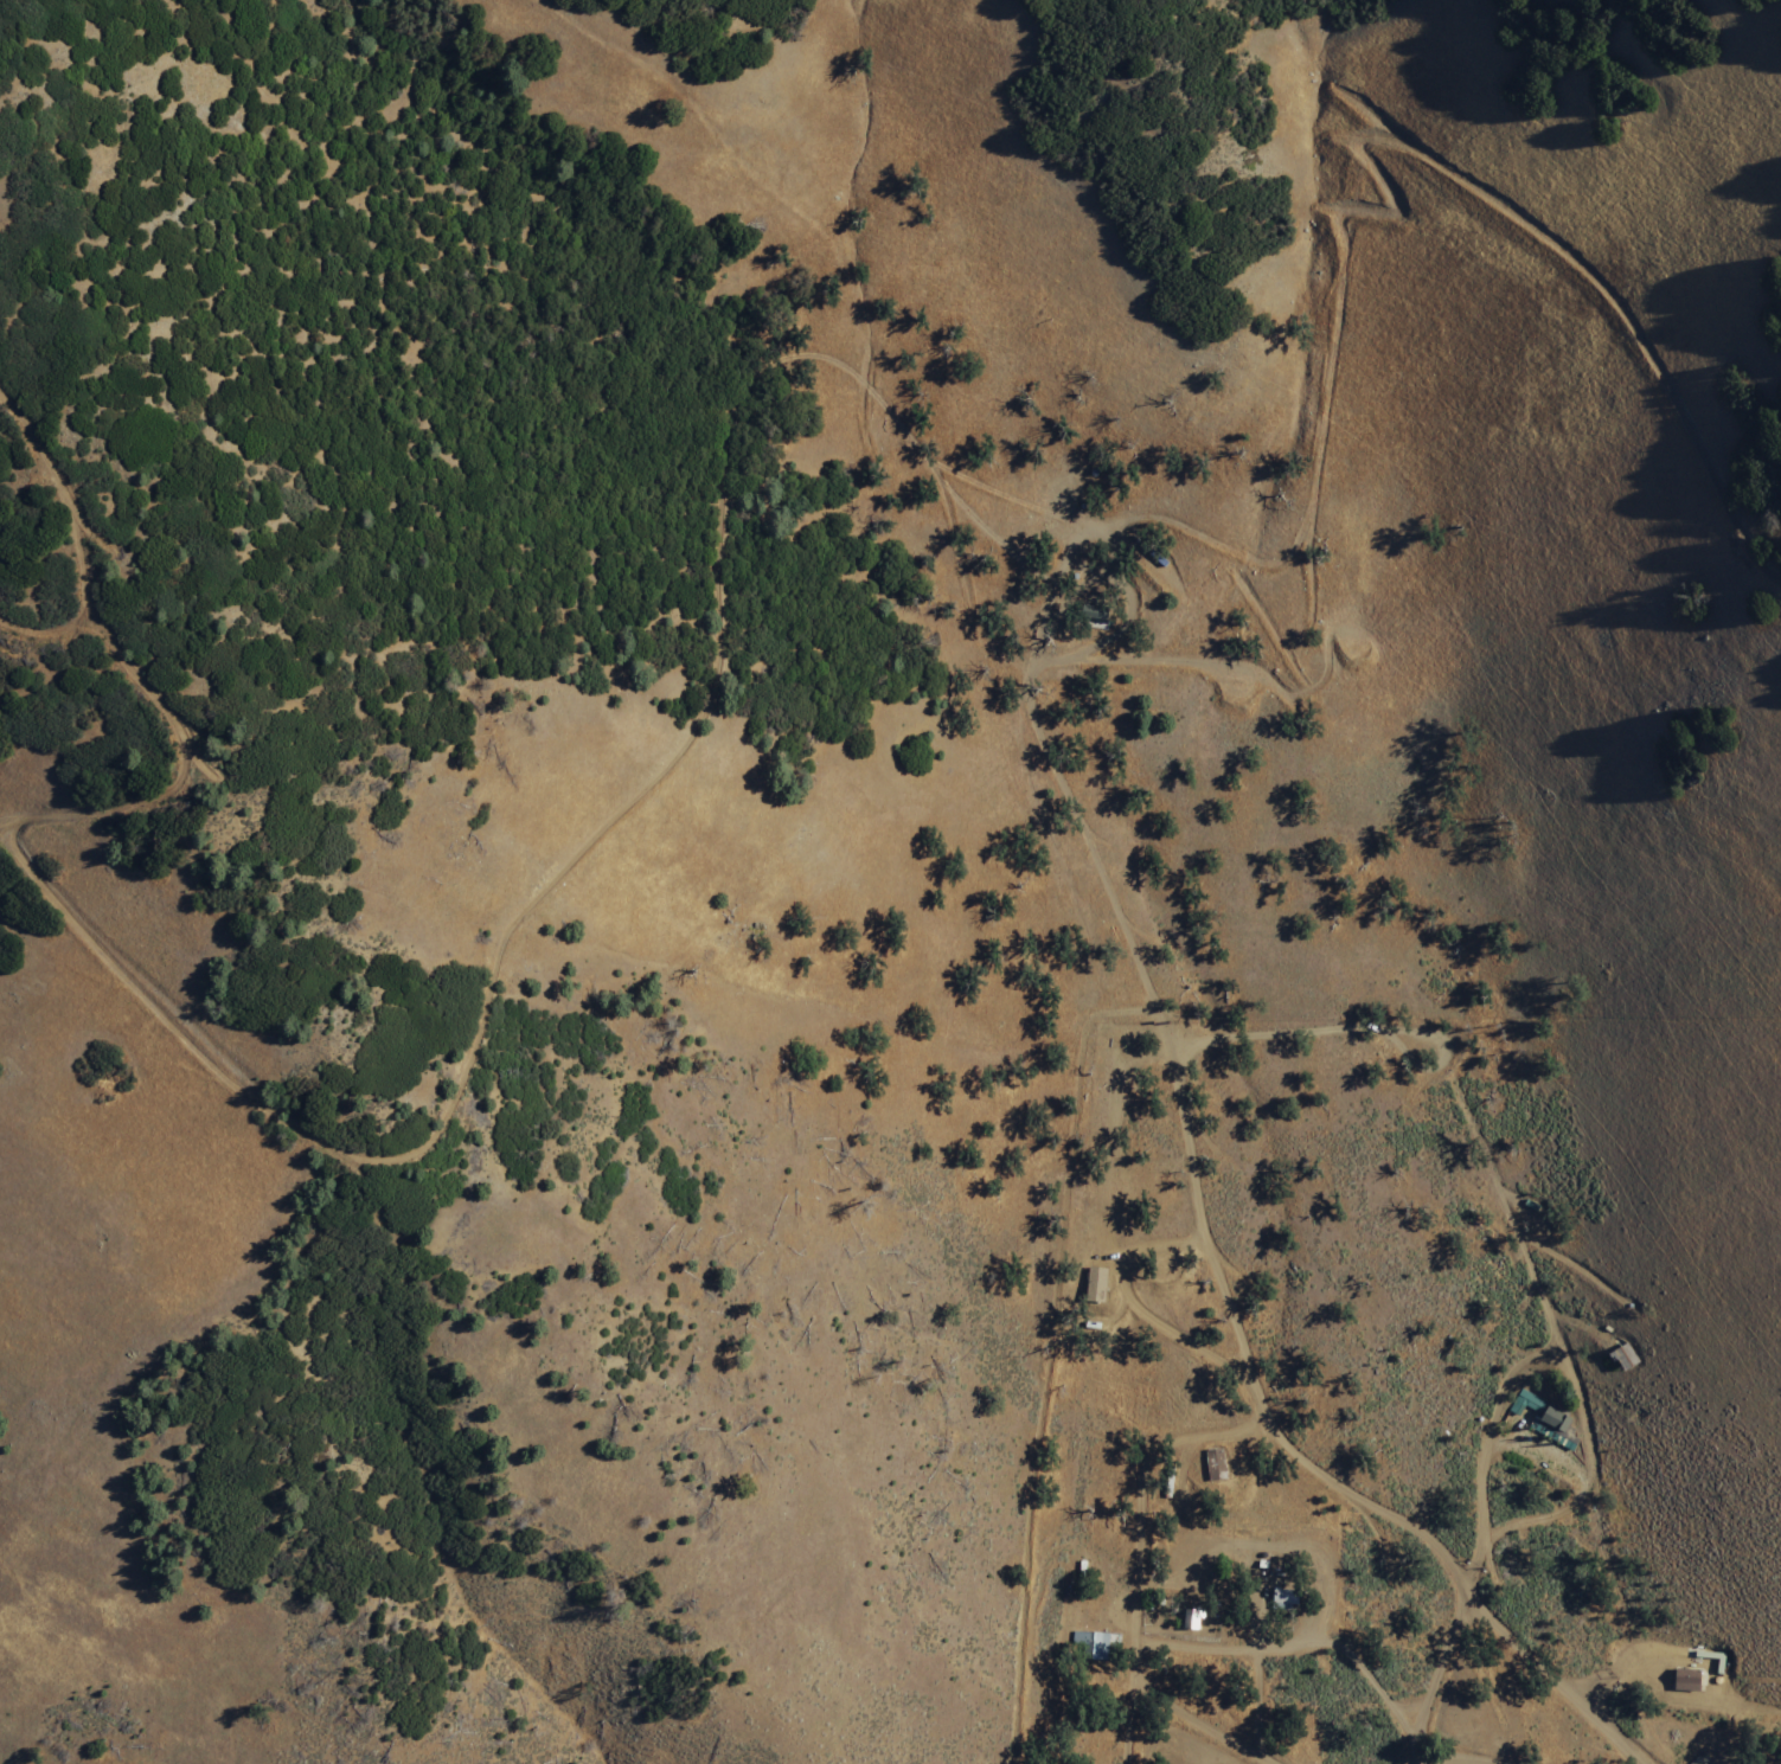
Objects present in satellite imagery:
road: (1101, 1192)
road: (1524, 1263)
building: (1094, 1281)
building: (1524, 1404)
building: (1212, 1465)
road: (1247, 1478)
building: (1282, 1599)
building: (1091, 1644)
road: (1356, 1662)
building: (1684, 1681)
road: (1441, 1759)

